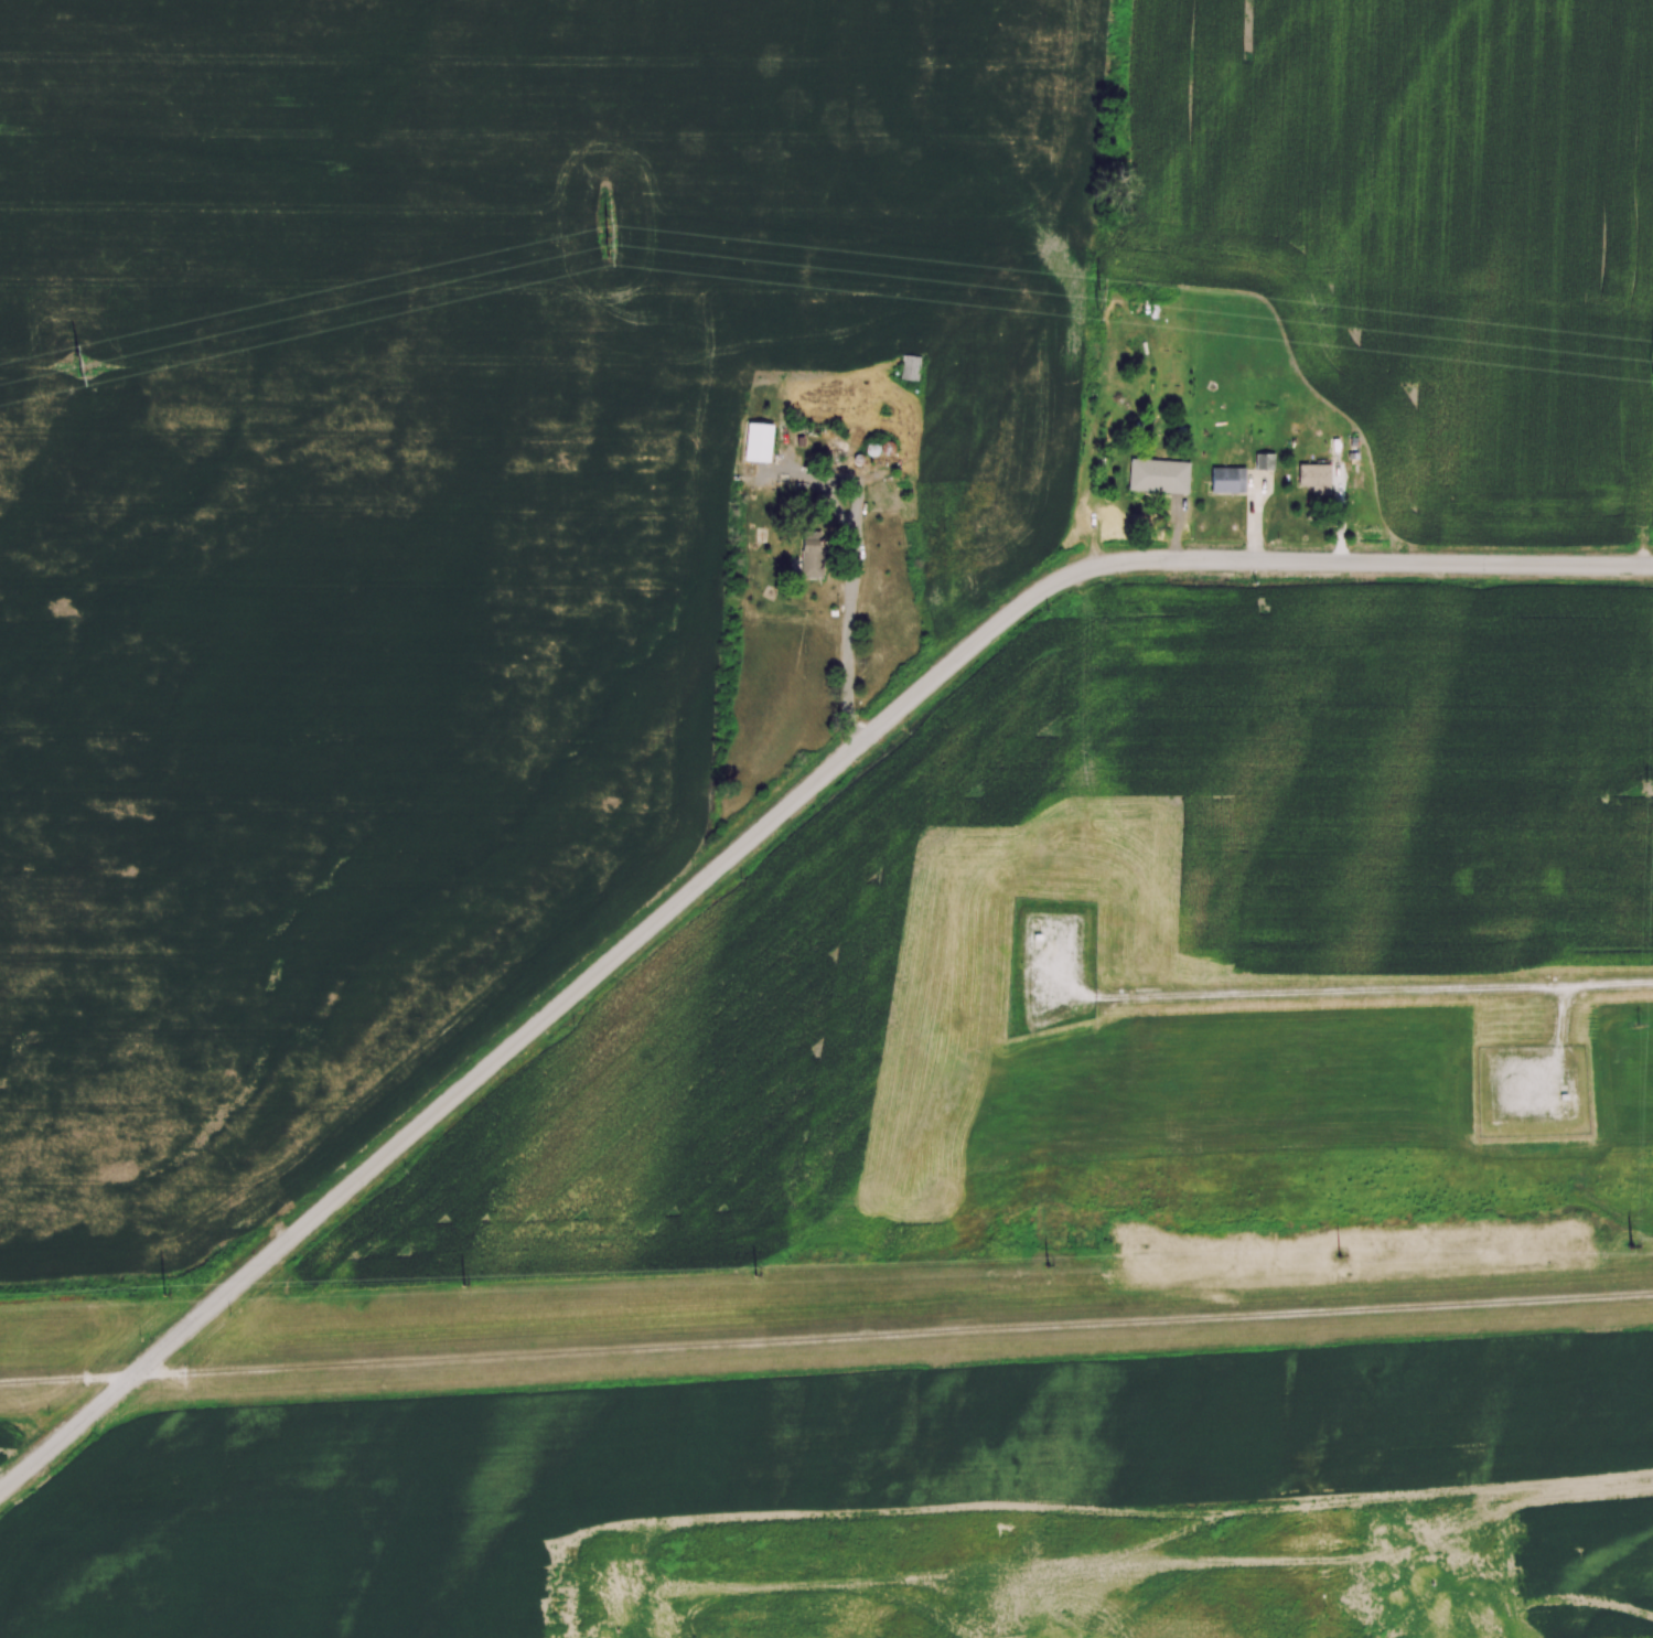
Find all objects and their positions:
crop: (1426, 235)
power tower: (610, 236)
power tower: (1097, 299)
power tower: (1652, 362)
power tower: (80, 366)
crop: (432, 510)
road: (848, 602)
road: (752, 838)
power tower: (1632, 1249)
power tower: (1339, 1257)
power tower: (1048, 1267)
power tower: (756, 1277)
power tower: (464, 1286)
power tower: (165, 1296)
road: (826, 1337)

